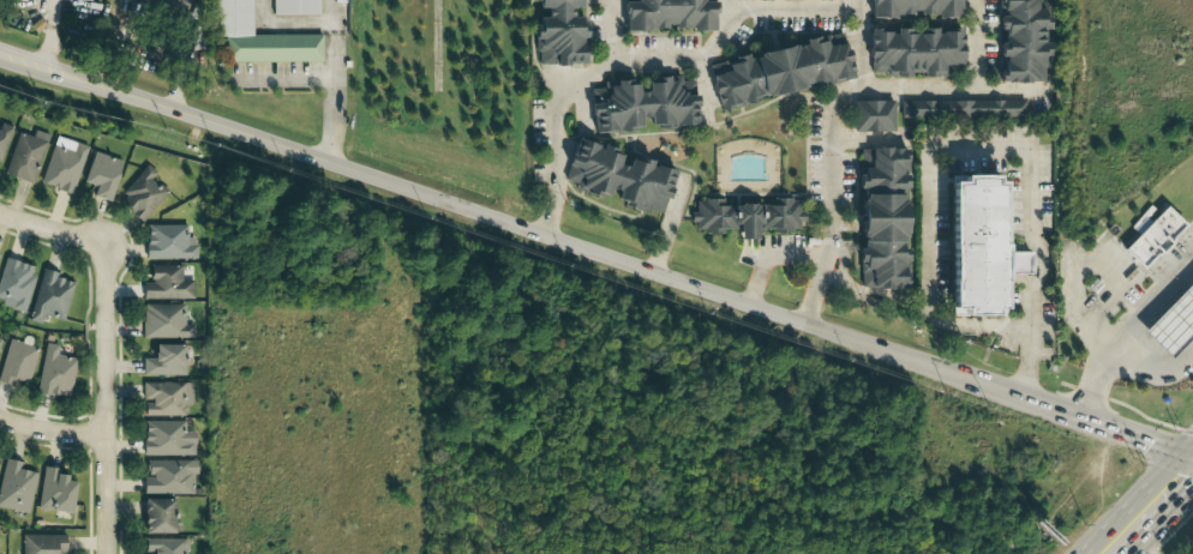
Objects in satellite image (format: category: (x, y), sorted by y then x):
building: (763, 0)
building: (808, 0)
building: (166, 6)
building: (294, 7)
road: (733, 7)
building: (915, 8)
road: (331, 11)
building: (667, 16)
road: (290, 22)
road: (335, 26)
building: (557, 32)
road: (50, 34)
road: (605, 34)
building: (257, 37)
building: (1020, 42)
road: (977, 43)
building: (912, 53)
road: (22, 60)
road: (642, 60)
building: (779, 72)
road: (286, 77)
road: (946, 88)
road: (332, 95)
building: (641, 106)
building: (960, 109)
building: (873, 115)
building: (4, 134)
building: (25, 156)
road: (829, 156)
building: (62, 164)
road: (1032, 164)
building: (101, 174)
building: (618, 176)
building: (140, 193)
building: (747, 216)
building: (880, 216)
road: (52, 229)
road: (535, 230)
building: (1153, 231)
building: (167, 242)
building: (977, 251)
building: (14, 283)
building: (166, 283)
building: (50, 296)
road: (1151, 297)
building: (1173, 318)
gas station: (1173, 318)
building: (164, 321)
road: (958, 324)
building: (0, 336)
road: (1123, 347)
building: (163, 360)
building: (17, 362)
building: (54, 372)
road: (104, 398)
building: (166, 398)
road: (1104, 424)
road: (52, 432)
building: (166, 438)
road: (1188, 445)
traffic signals: (1183, 451)
road: (1188, 452)
building: (168, 476)
building: (14, 487)
building: (53, 490)
road: (1132, 502)
building: (158, 516)
road: (1161, 520)
building: (42, 543)
building: (163, 546)

